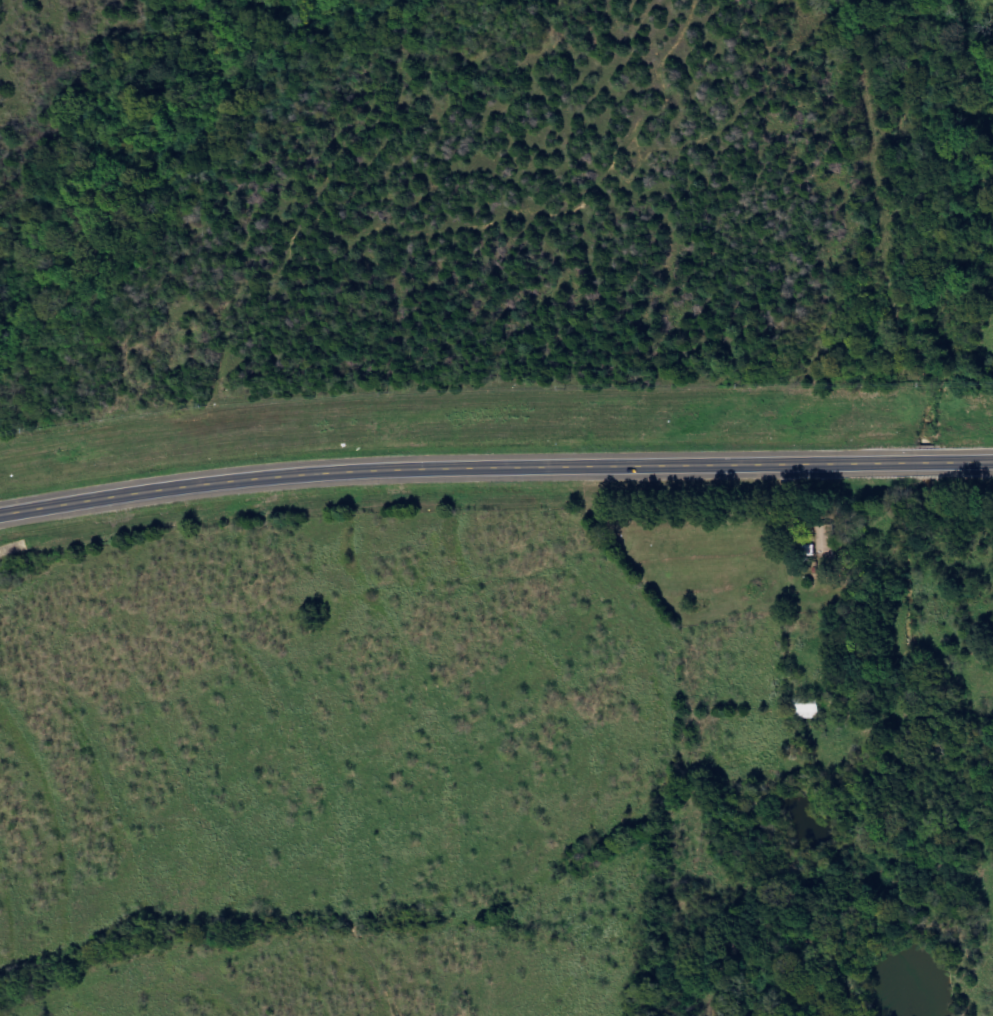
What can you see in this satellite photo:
road: (494, 462)
building: (829, 540)

